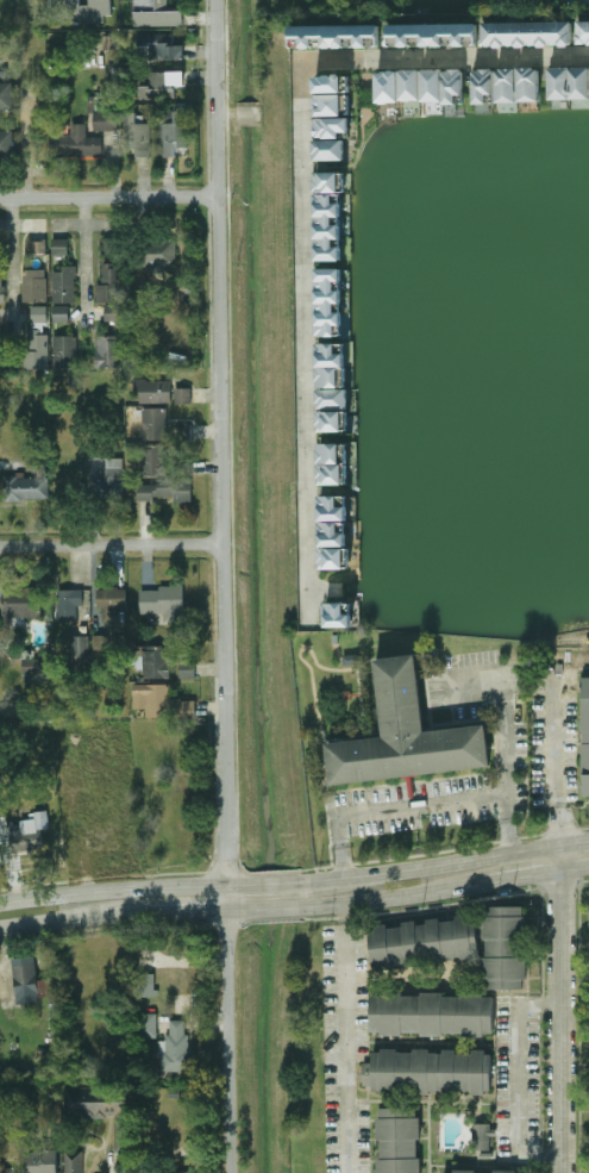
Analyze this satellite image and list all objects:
road: (56, 10)
building: (89, 10)
building: (157, 14)
building: (584, 32)
building: (434, 35)
building: (531, 35)
building: (338, 37)
building: (163, 45)
road: (445, 61)
building: (334, 80)
building: (581, 81)
building: (531, 82)
building: (562, 82)
building: (413, 83)
building: (433, 83)
building: (509, 83)
building: (163, 85)
building: (389, 85)
building: (455, 85)
building: (485, 85)
building: (7, 96)
building: (333, 102)
building: (107, 112)
building: (333, 124)
building: (177, 131)
building: (138, 135)
building: (7, 143)
road: (29, 144)
building: (79, 144)
building: (332, 148)
building: (332, 179)
road: (108, 198)
building: (330, 225)
building: (111, 245)
building: (38, 247)
building: (61, 247)
building: (158, 252)
road: (11, 267)
road: (84, 267)
building: (108, 282)
building: (65, 285)
building: (35, 286)
building: (1, 288)
building: (331, 299)
building: (39, 313)
building: (61, 314)
building: (113, 314)
road: (303, 345)
building: (1, 350)
building: (37, 350)
building: (109, 350)
building: (65, 351)
building: (334, 352)
building: (334, 374)
building: (155, 391)
building: (184, 395)
building: (336, 398)
building: (336, 420)
building: (164, 426)
building: (98, 445)
building: (336, 451)
building: (157, 461)
building: (334, 473)
building: (108, 486)
building: (21, 487)
building: (167, 491)
building: (336, 506)
building: (336, 532)
road: (111, 547)
building: (337, 557)
road: (325, 584)
road: (223, 586)
building: (112, 599)
building: (164, 603)
building: (23, 604)
building: (68, 604)
building: (342, 612)
building: (84, 629)
building: (336, 639)
building: (101, 641)
building: (82, 648)
road: (339, 650)
building: (434, 655)
road: (426, 659)
building: (351, 660)
road: (349, 661)
building: (156, 662)
road: (356, 662)
building: (37, 666)
building: (187, 670)
road: (314, 680)
road: (355, 694)
building: (343, 695)
building: (159, 700)
road: (361, 700)
road: (428, 718)
building: (587, 735)
building: (408, 736)
road: (494, 747)
road: (496, 754)
road: (556, 761)
road: (328, 766)
road: (411, 782)
road: (368, 787)
building: (411, 787)
road: (502, 795)
road: (326, 803)
road: (509, 824)
building: (29, 834)
building: (100, 838)
road: (574, 843)
road: (339, 849)
road: (559, 857)
road: (430, 866)
road: (575, 868)
road: (527, 875)
road: (272, 886)
road: (121, 891)
road: (399, 897)
road: (274, 909)
building: (588, 909)
road: (121, 915)
building: (424, 942)
building: (505, 948)
road: (396, 979)
building: (30, 981)
building: (145, 985)
building: (432, 1015)
road: (560, 1022)
building: (148, 1025)
road: (343, 1038)
building: (175, 1048)
building: (427, 1072)
road: (516, 1081)
building: (100, 1110)
building: (482, 1136)
building: (397, 1140)
building: (42, 1161)
building: (74, 1161)
building: (6, 1168)
building: (177, 1172)
building: (484, 1172)

